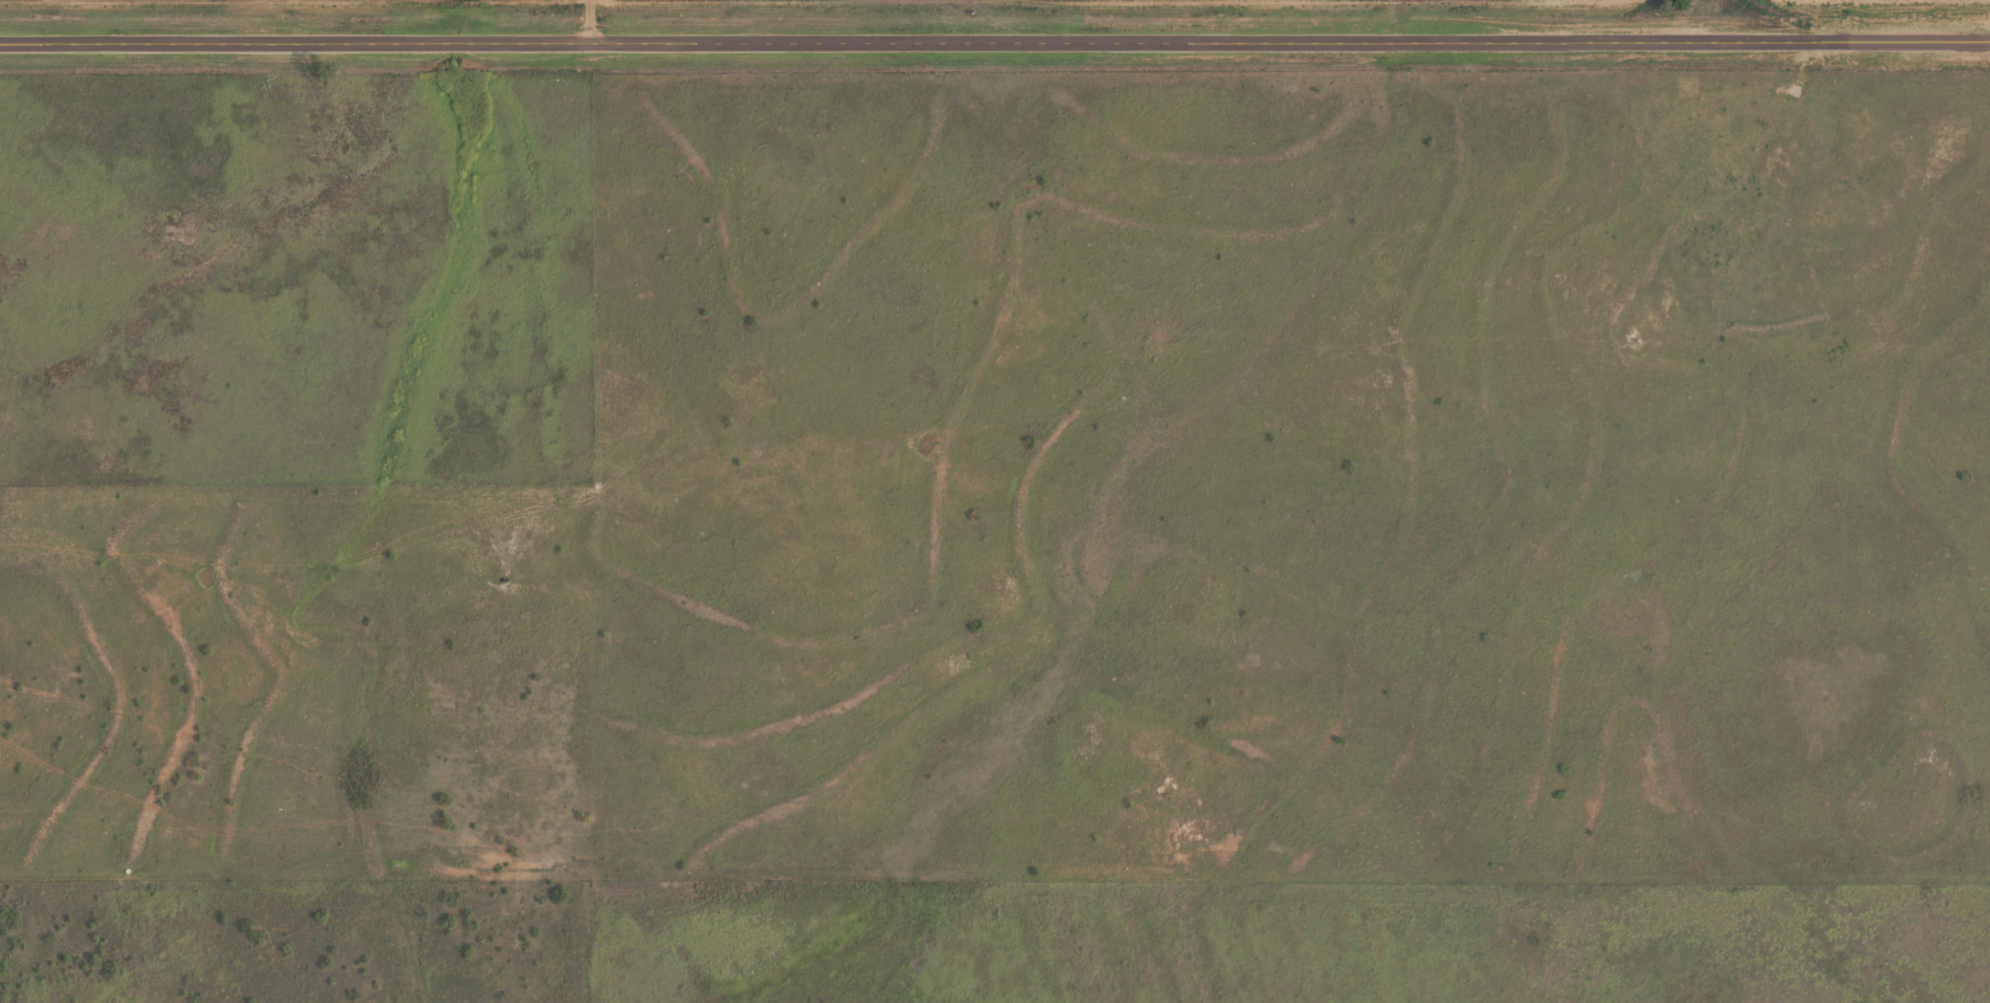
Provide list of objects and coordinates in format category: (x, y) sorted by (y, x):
road: (606, 24)
road: (995, 49)

